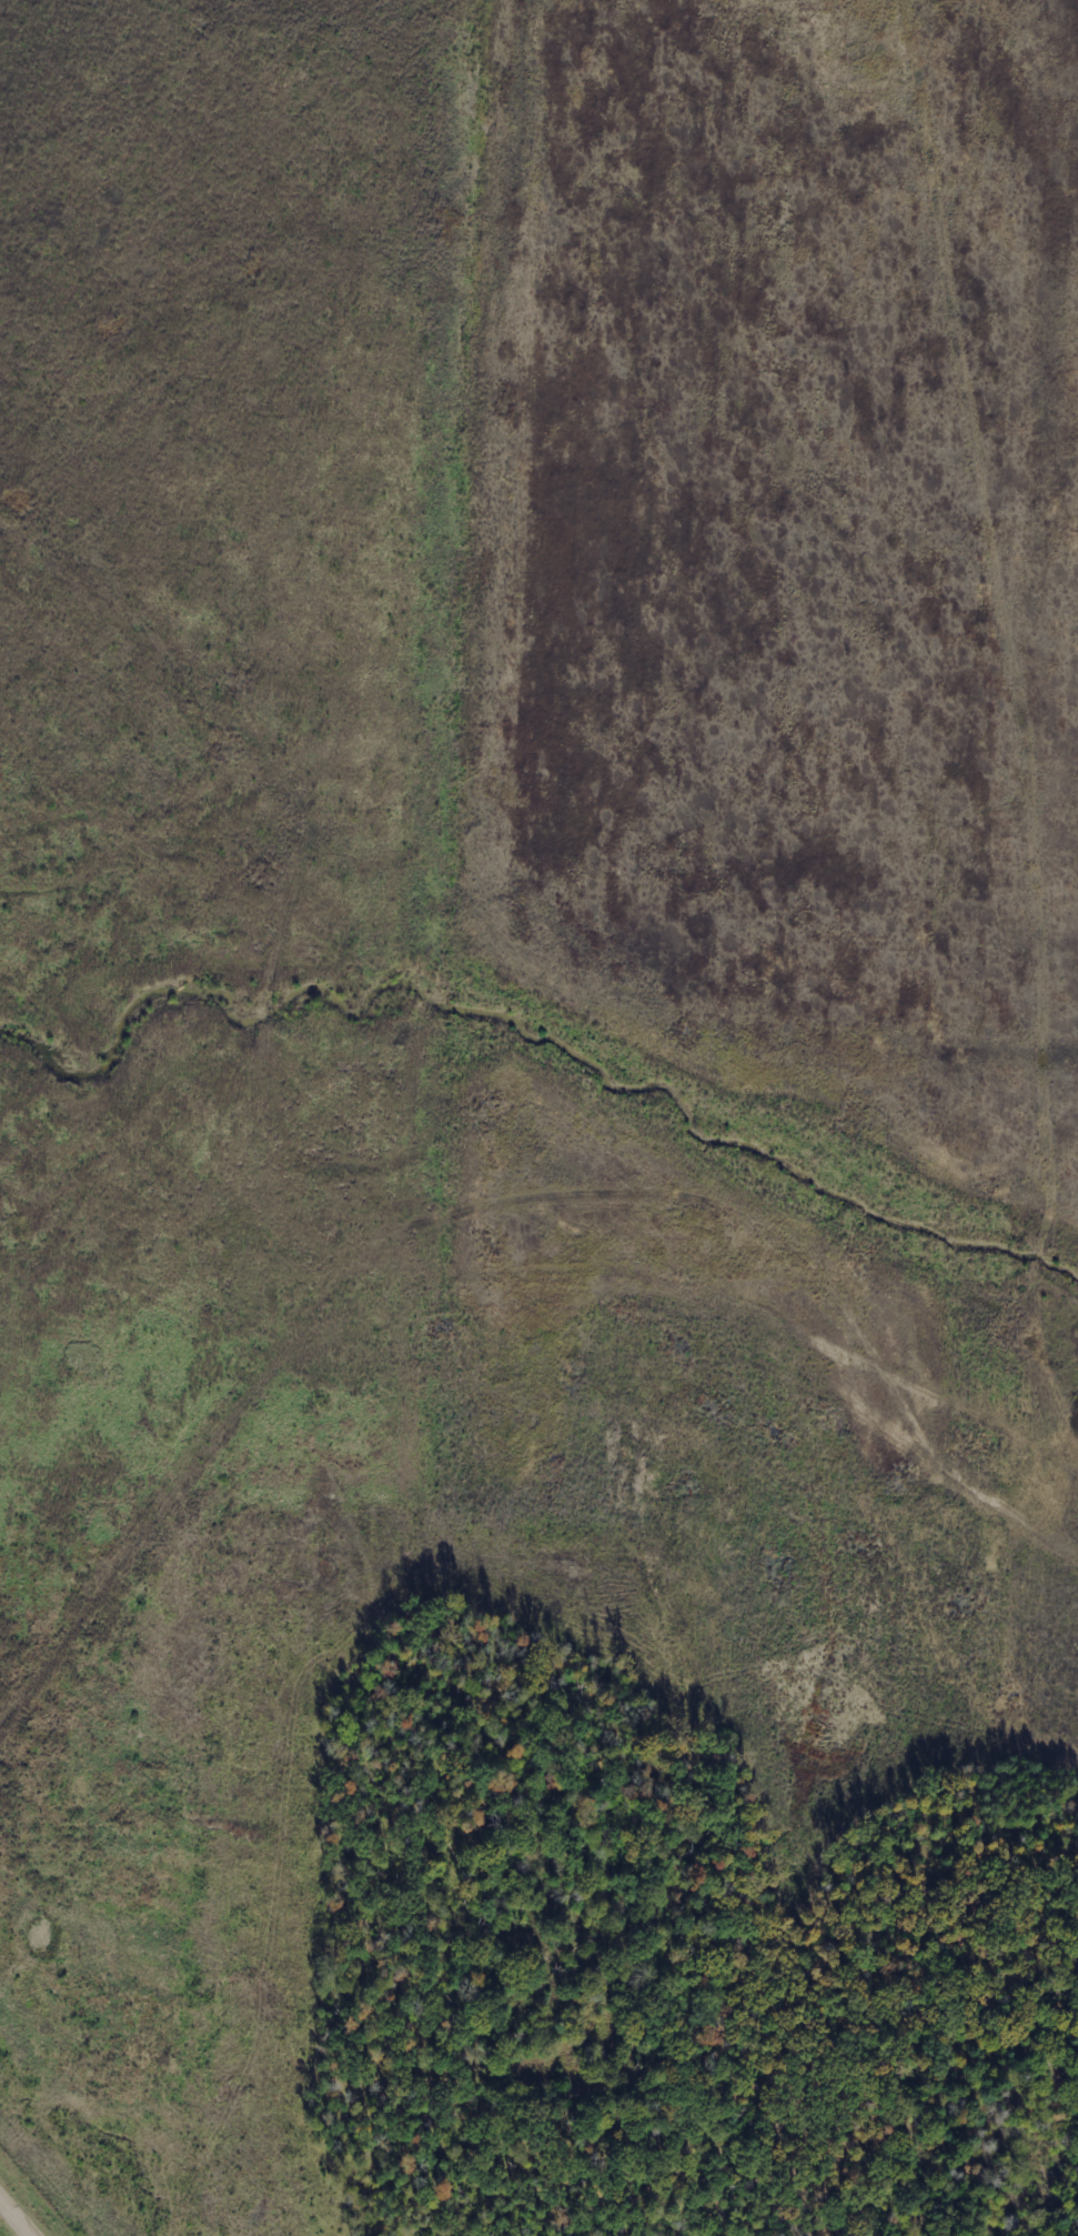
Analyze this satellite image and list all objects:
road: (17, 2209)

